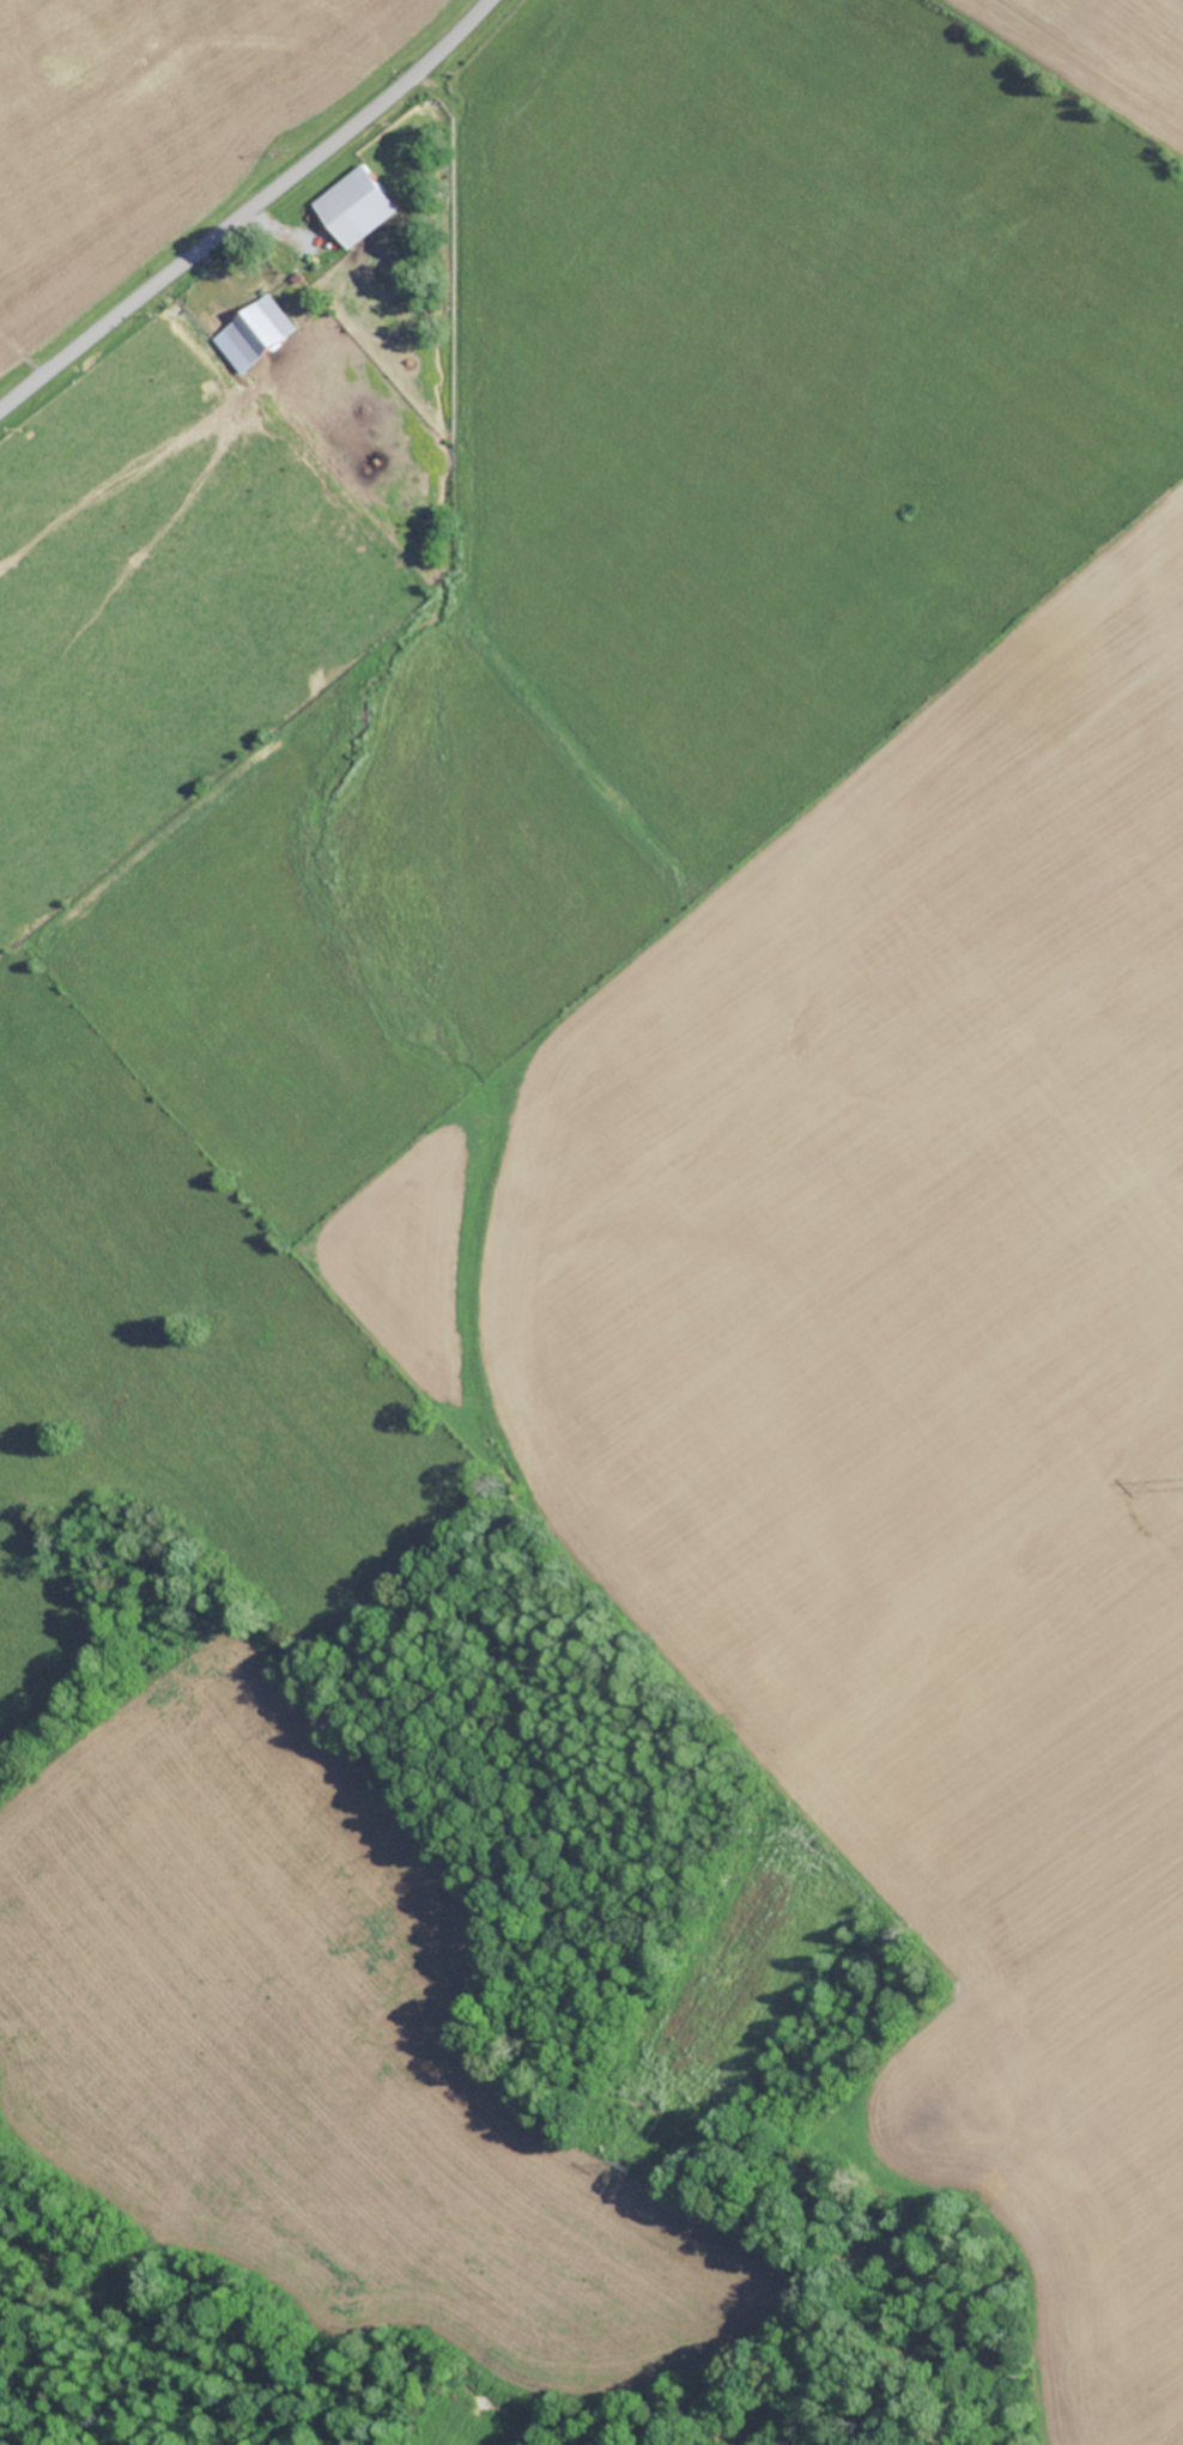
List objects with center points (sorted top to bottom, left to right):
building: (352, 206)
road: (249, 210)
building: (251, 332)
power tower: (821, 1838)
power tower: (643, 2165)

